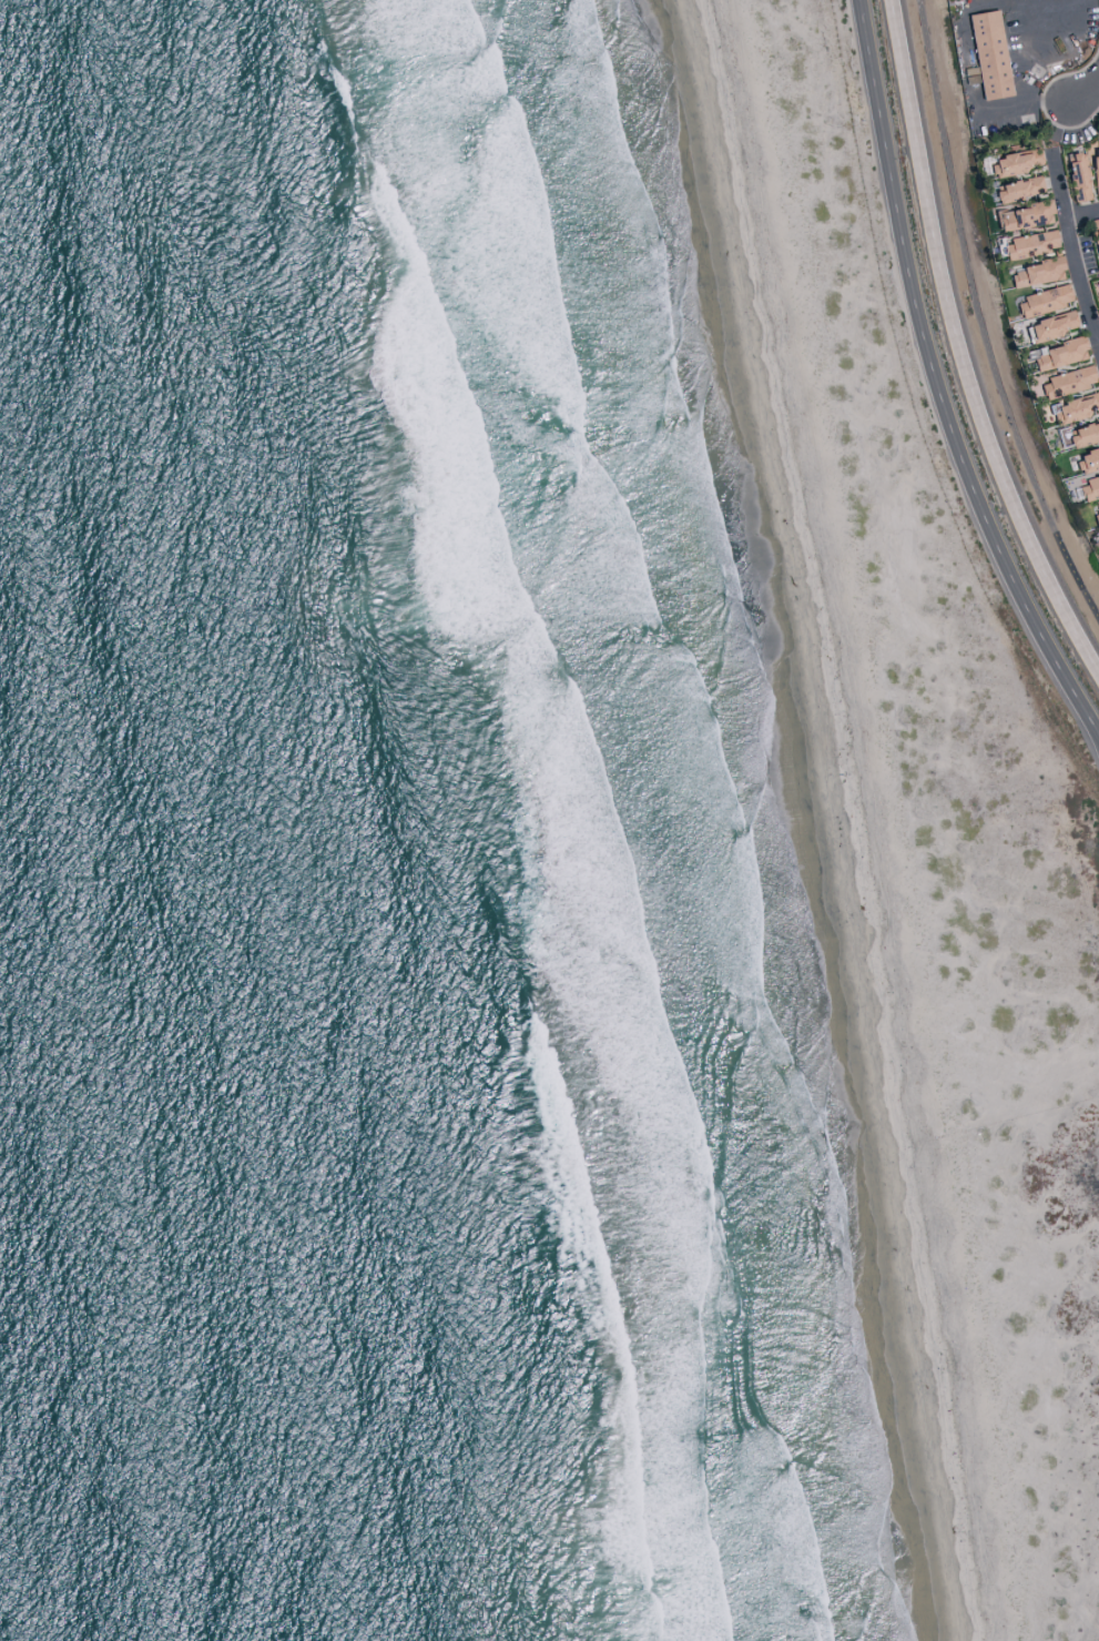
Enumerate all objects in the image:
road: (954, 0)
road: (1025, 16)
road: (1066, 32)
building: (987, 53)
road: (1086, 98)
road: (1093, 99)
road: (1024, 104)
building: (1012, 161)
building: (1095, 166)
building: (1076, 175)
building: (1016, 188)
building: (1022, 215)
road: (1083, 216)
building: (1095, 236)
building: (1028, 243)
road: (1076, 250)
building: (1036, 272)
building: (1096, 294)
building: (1041, 300)
road: (981, 313)
building: (1049, 325)
road: (959, 345)
building: (1057, 353)
road: (939, 379)
building: (1066, 381)
building: (1075, 405)
building: (1079, 432)
building: (1087, 458)
building: (1088, 487)
building: (1095, 514)
building: (1098, 534)

